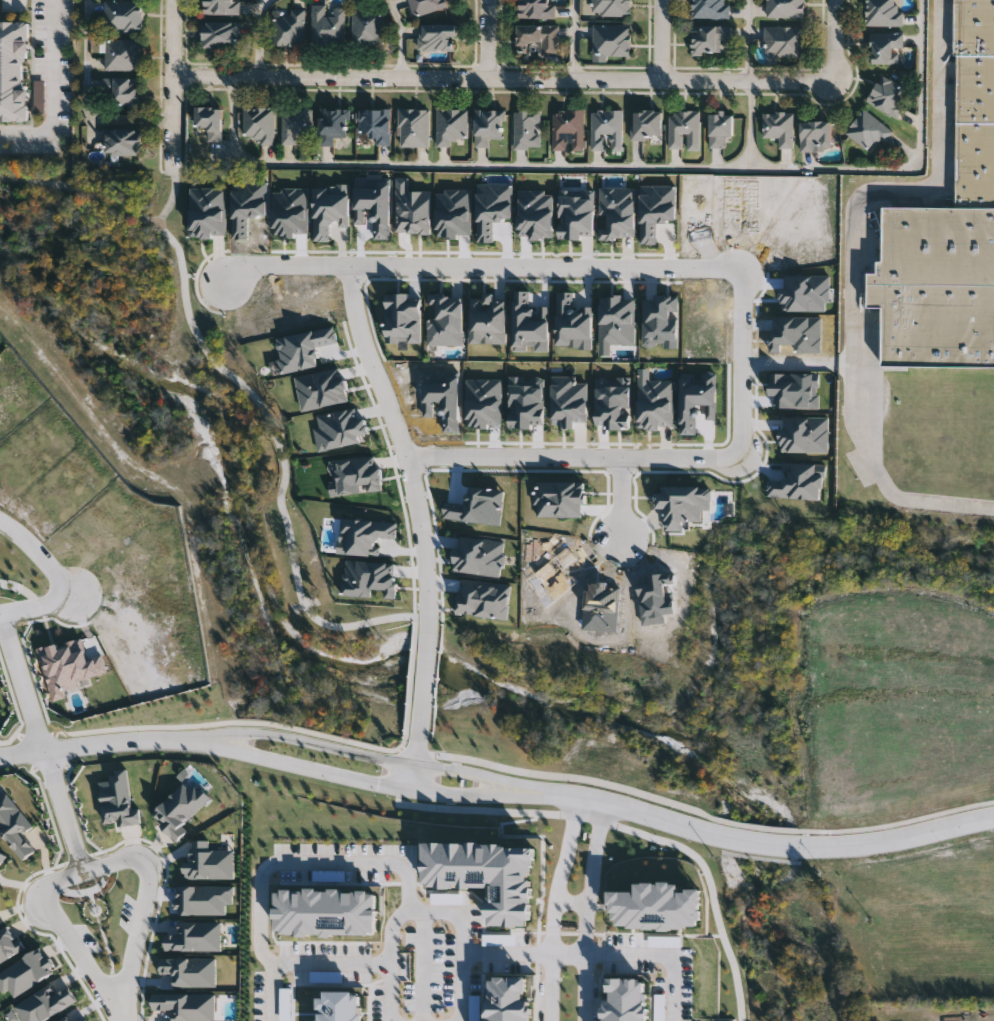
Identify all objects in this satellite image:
building: (223, 6)
building: (425, 6)
building: (611, 7)
building: (712, 8)
building: (786, 8)
building: (536, 9)
building: (885, 12)
building: (124, 15)
building: (329, 25)
building: (290, 27)
building: (368, 27)
building: (974, 27)
road: (403, 33)
building: (222, 34)
road: (259, 34)
building: (437, 36)
road: (486, 36)
building: (540, 37)
road: (574, 37)
road: (662, 38)
building: (710, 38)
road: (746, 38)
building: (612, 39)
road: (834, 40)
building: (785, 41)
building: (887, 47)
building: (124, 54)
road: (499, 73)
road: (171, 86)
road: (54, 88)
building: (974, 88)
building: (124, 89)
building: (889, 95)
road: (85, 100)
building: (213, 121)
building: (296, 122)
building: (261, 123)
building: (377, 123)
road: (750, 123)
building: (333, 124)
building: (648, 124)
building: (452, 125)
building: (488, 126)
building: (414, 127)
building: (721, 127)
building: (779, 127)
building: (607, 128)
building: (527, 129)
building: (568, 129)
building: (684, 129)
building: (870, 130)
building: (818, 134)
building: (125, 140)
building: (974, 164)
road: (620, 167)
road: (107, 198)
road: (857, 265)
road: (281, 266)
road: (548, 268)
building: (936, 286)
road: (802, 362)
road: (372, 363)
road: (743, 364)
road: (515, 457)
road: (280, 458)
road: (683, 458)
road: (623, 498)
road: (422, 538)
road: (58, 577)
road: (0, 615)
road: (426, 675)
road: (413, 680)
road: (23, 682)
road: (285, 736)
road: (403, 742)
road: (97, 745)
road: (419, 747)
road: (22, 752)
road: (282, 761)
road: (481, 776)
road: (415, 778)
road: (478, 795)
road: (64, 811)
road: (767, 843)
road: (364, 864)
road: (572, 902)
road: (554, 908)
road: (588, 910)
road: (143, 911)
road: (67, 937)
road: (568, 953)
road: (659, 955)
road: (387, 962)
road: (329, 963)
road: (465, 986)

